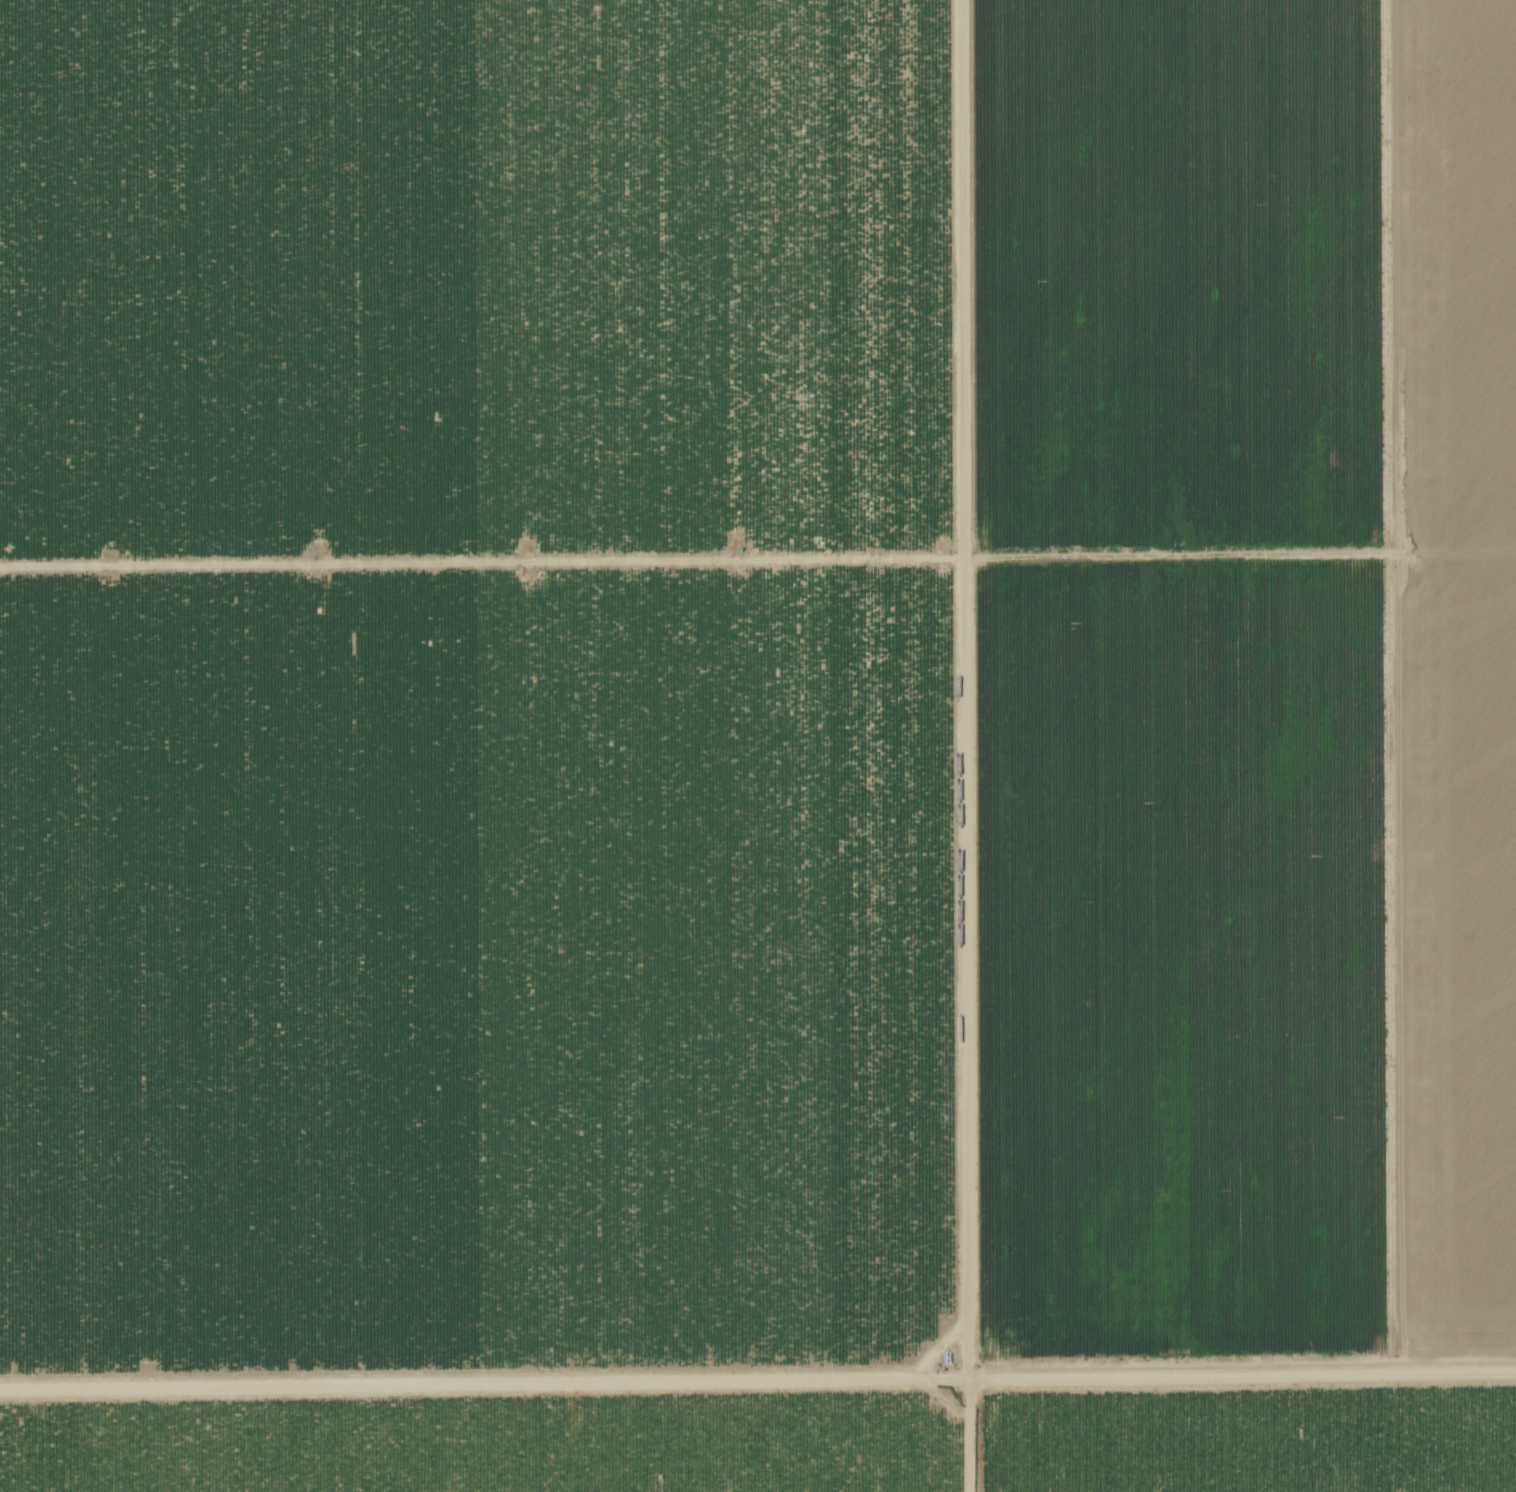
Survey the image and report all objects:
crop: (475, 745)
crop: (1233, 746)

